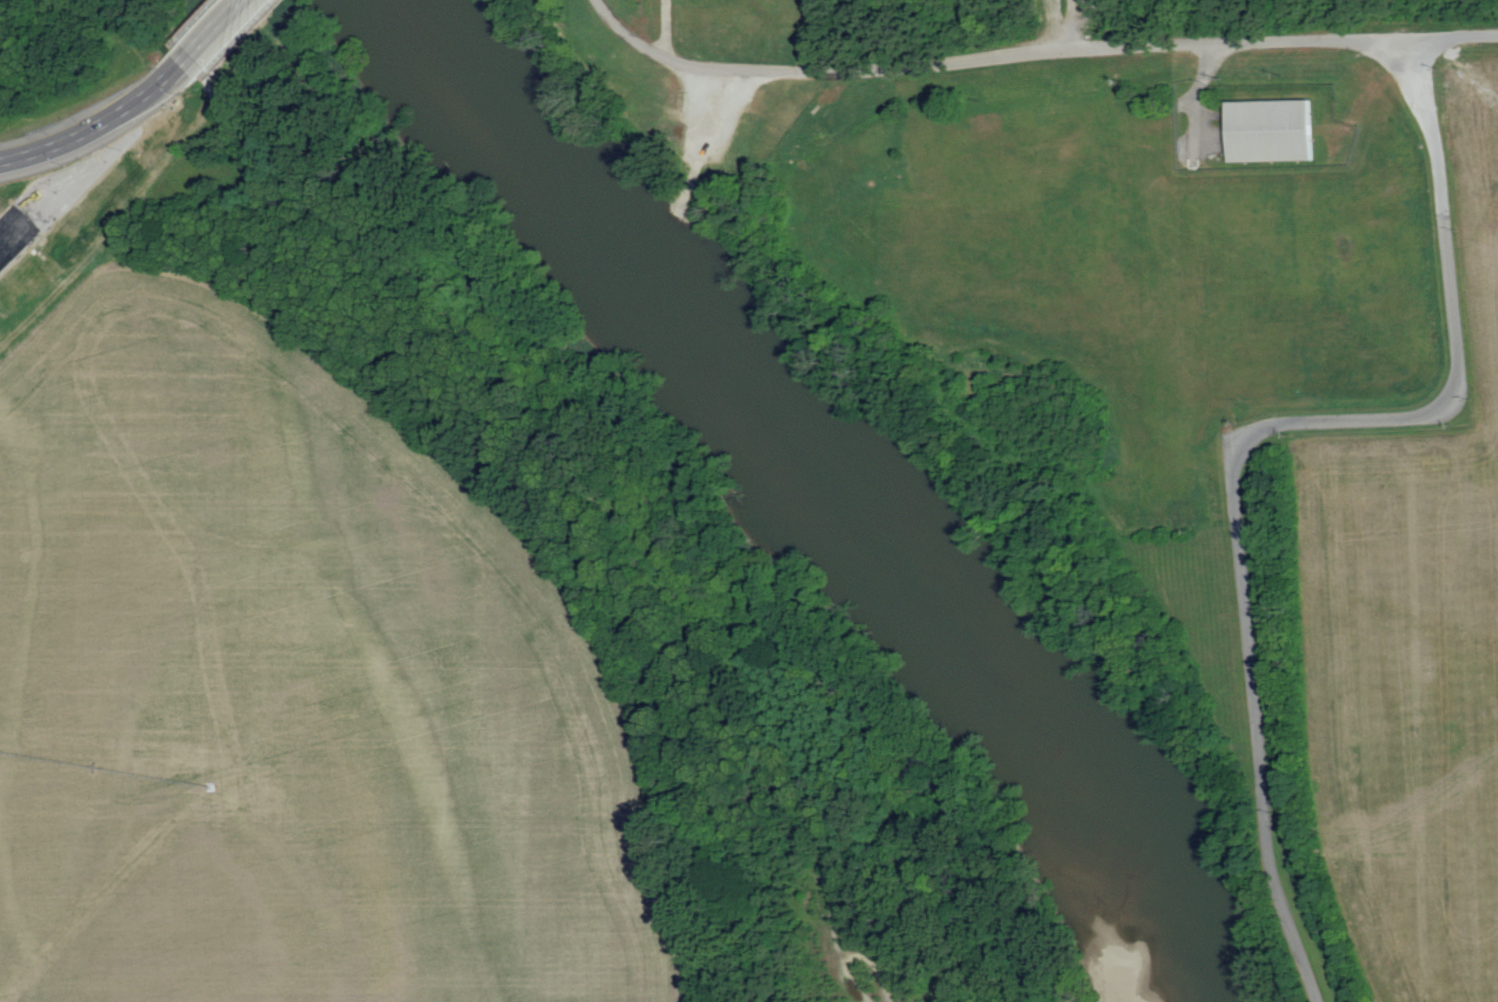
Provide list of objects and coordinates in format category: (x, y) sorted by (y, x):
road: (218, 30)
road: (1035, 50)
parking lot: (705, 122)
building: (1269, 129)
road: (1050, 140)
road: (93, 152)
road: (1200, 304)
road: (1247, 433)
river: (806, 495)
road: (831, 937)

